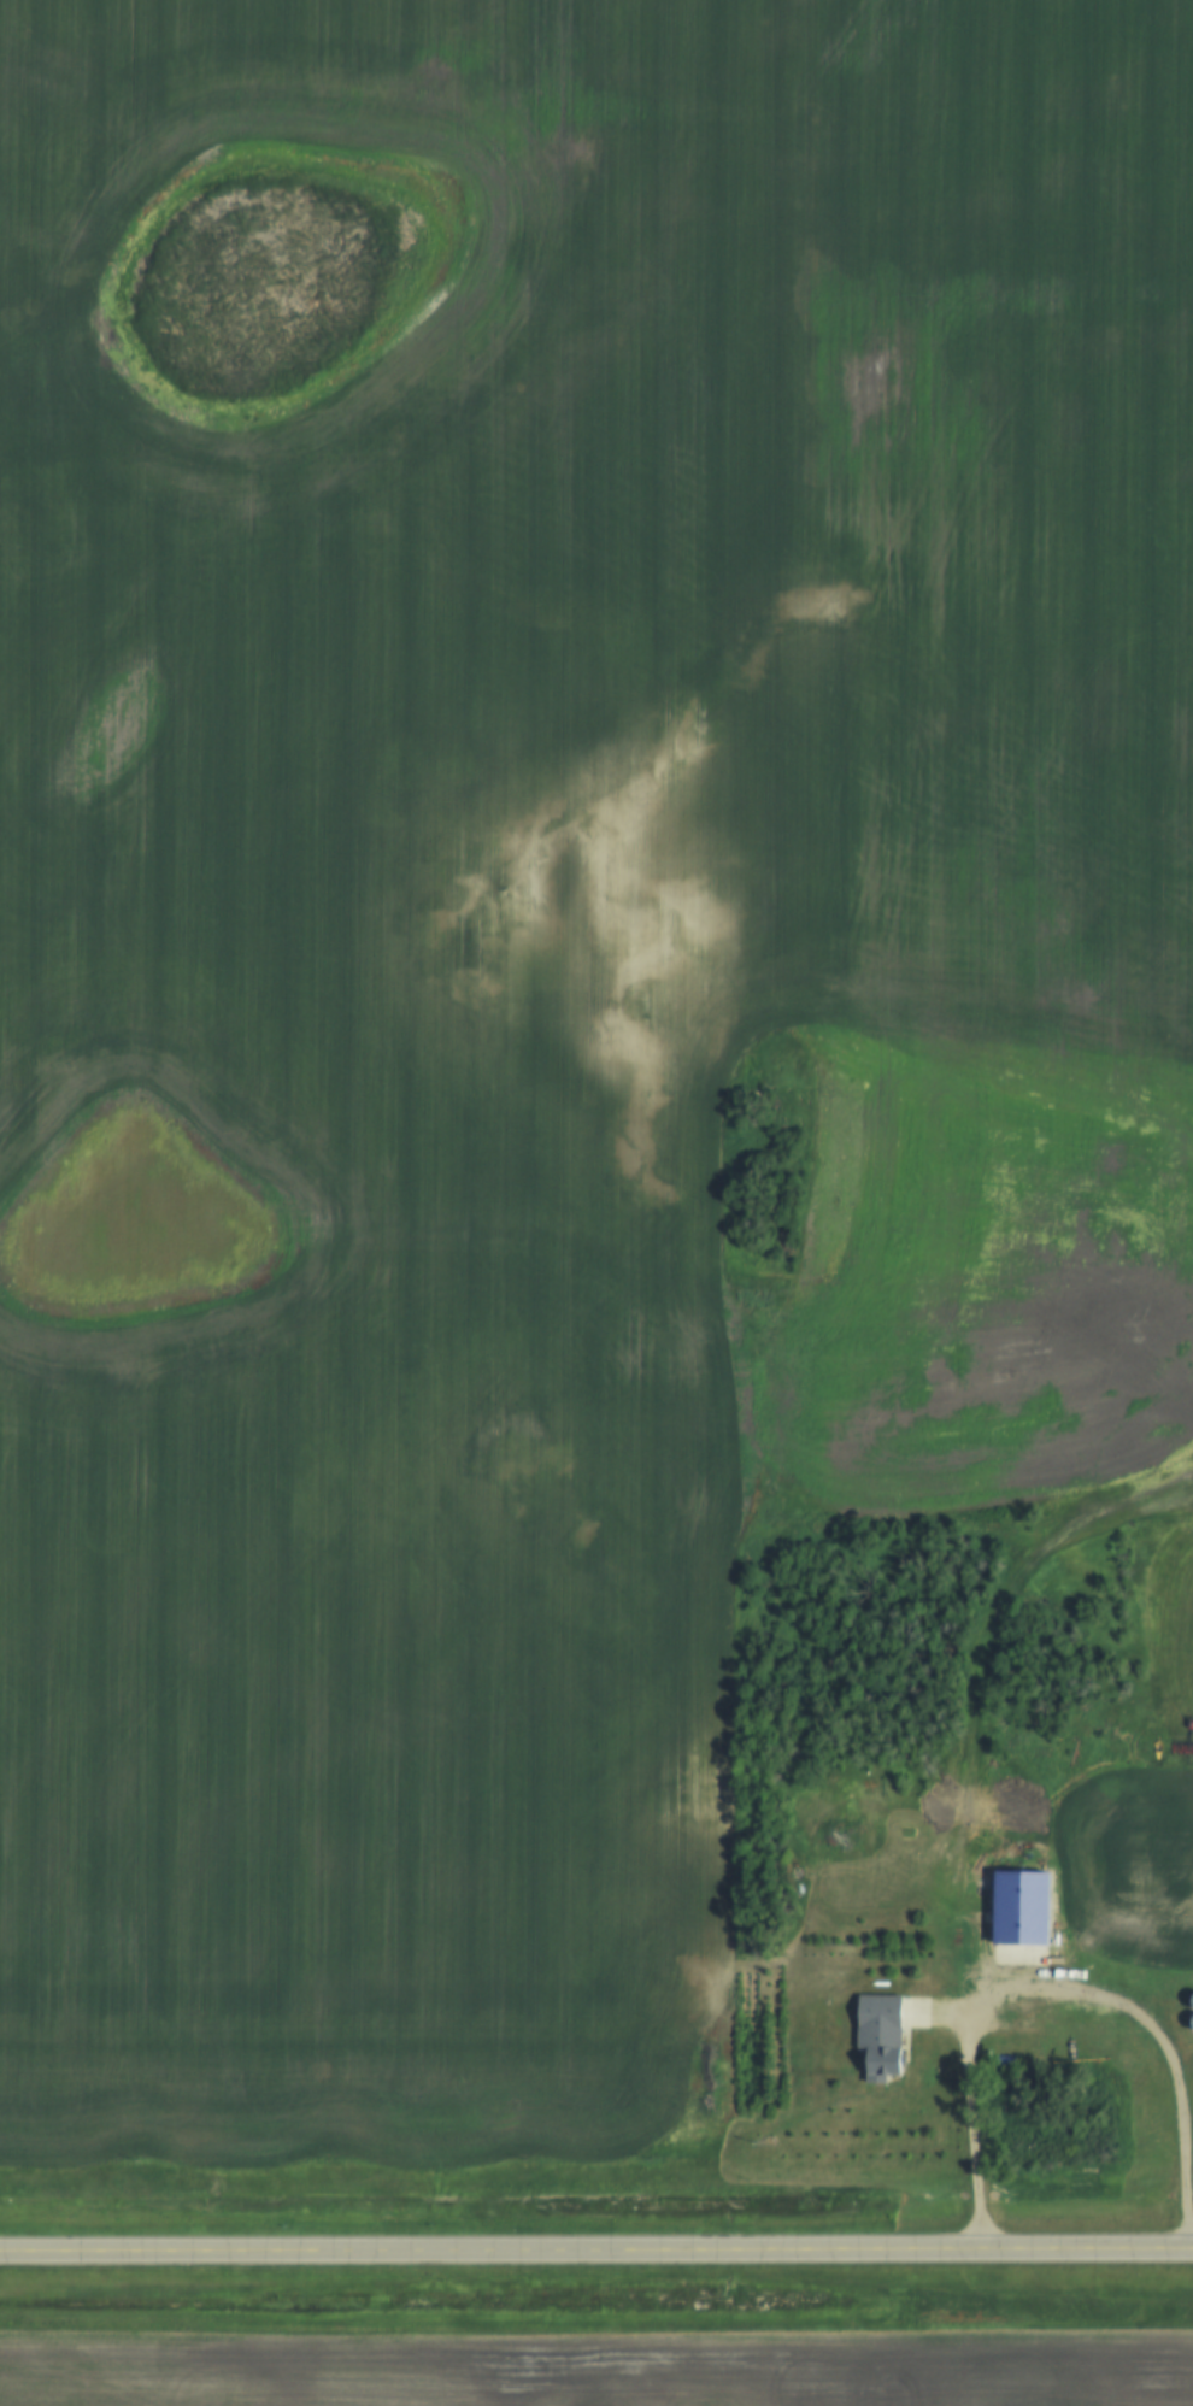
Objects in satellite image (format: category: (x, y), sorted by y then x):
building: (1112, 1879)
building: (1017, 1907)
building: (1189, 2002)
silo: (1189, 2002)
building: (1189, 2023)
silo: (1189, 2023)
road: (1013, 2026)
building: (878, 2035)
building: (1075, 2053)
road: (231, 2254)
road: (828, 2255)

